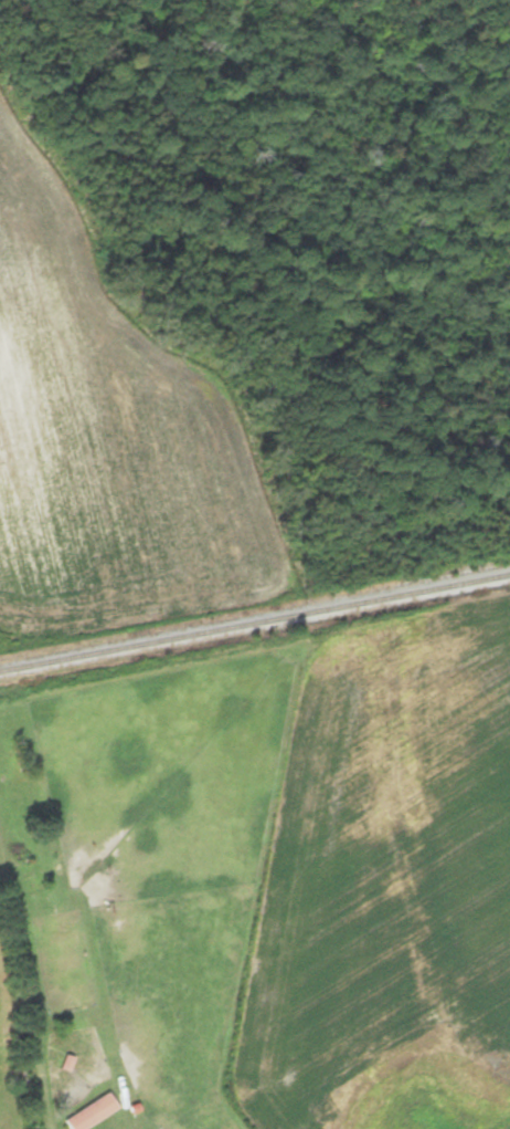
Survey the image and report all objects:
railway: (255, 623)
road: (23, 996)
building: (94, 1112)

